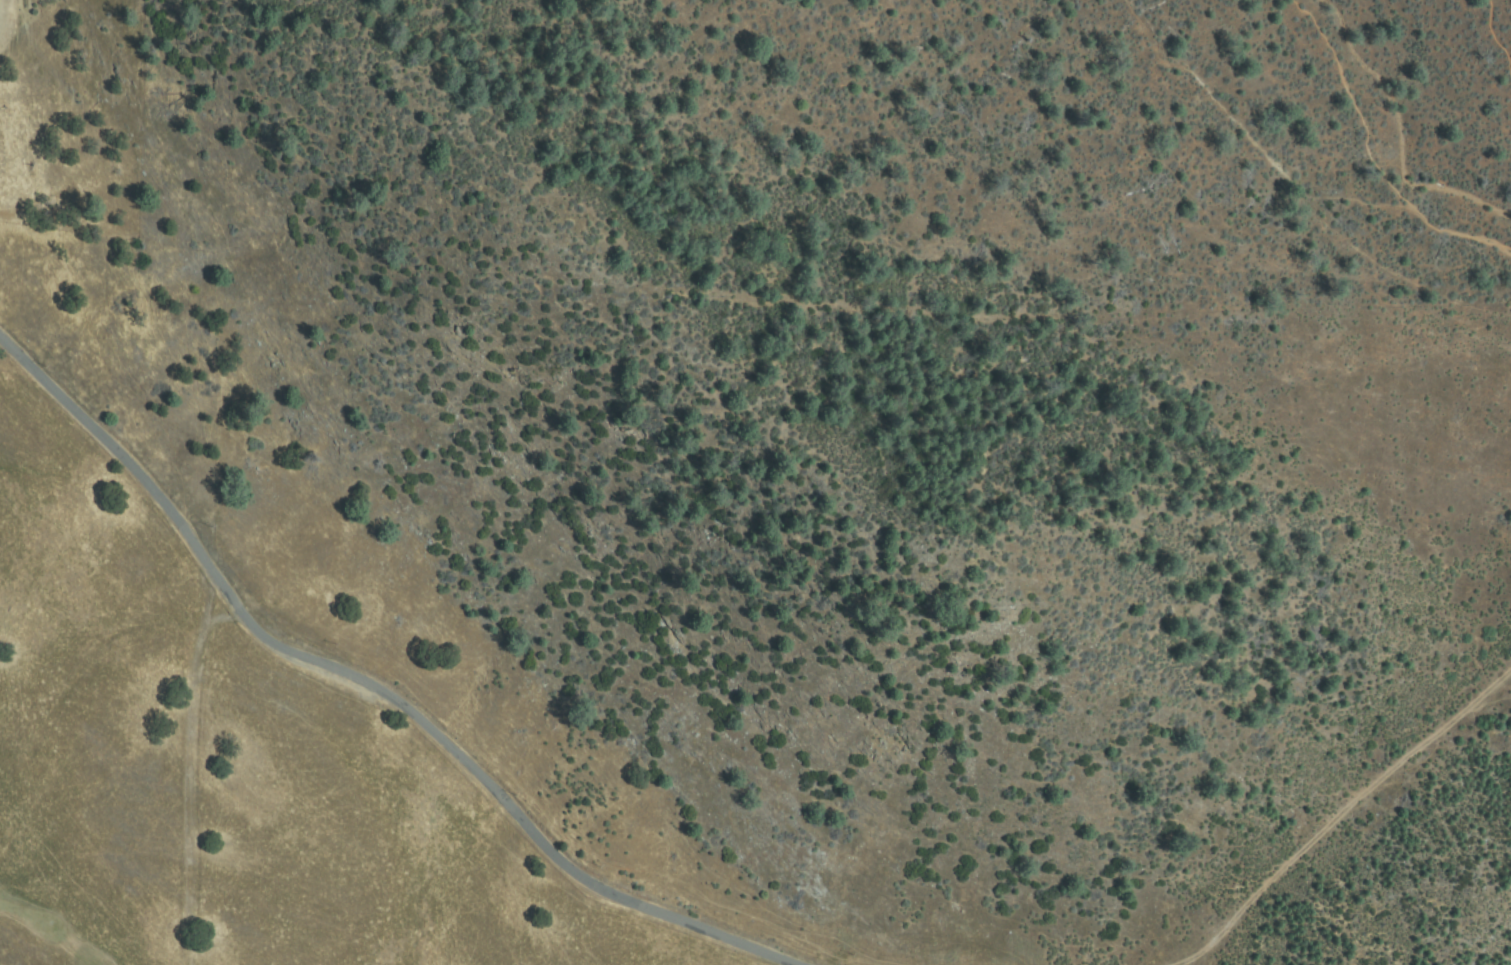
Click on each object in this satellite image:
road: (1502, 31)
road: (1370, 159)
building: (357, 512)
road: (374, 682)

